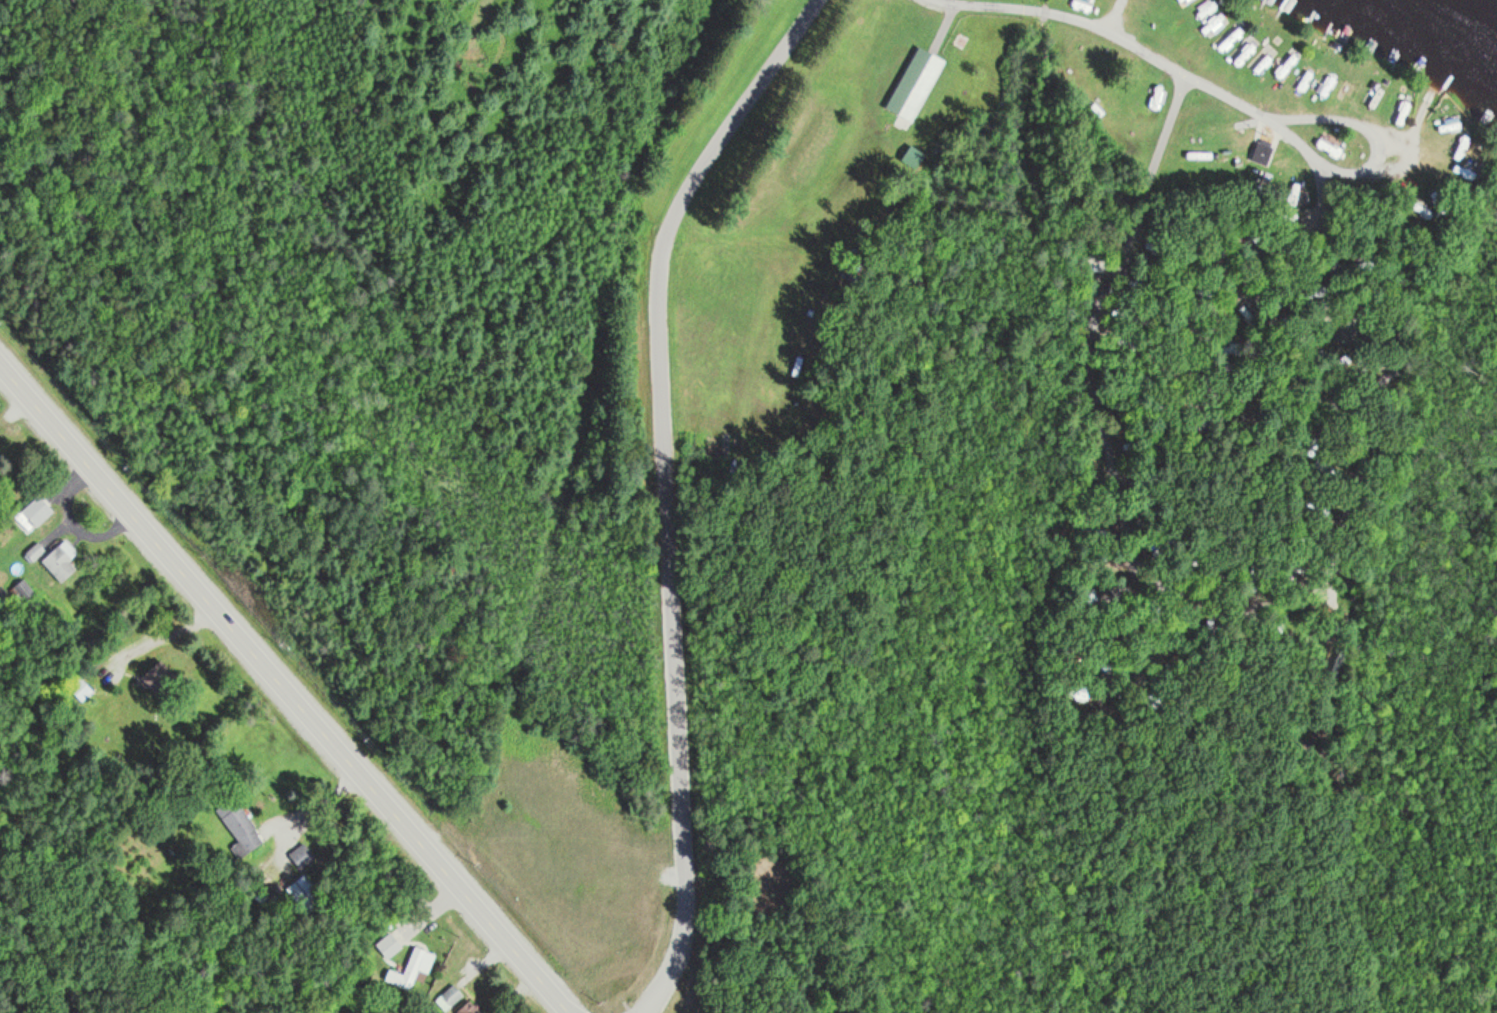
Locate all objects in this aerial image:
building: (1213, 20)
road: (1115, 35)
building: (1231, 36)
building: (1242, 53)
building: (1260, 62)
building: (1284, 66)
building: (1303, 80)
building: (912, 83)
building: (1326, 85)
building: (1348, 94)
building: (1372, 100)
building: (1387, 106)
building: (1259, 153)
road: (1381, 158)
building: (1427, 223)
road: (1206, 361)
road: (665, 489)
road: (1188, 596)
road: (285, 688)

